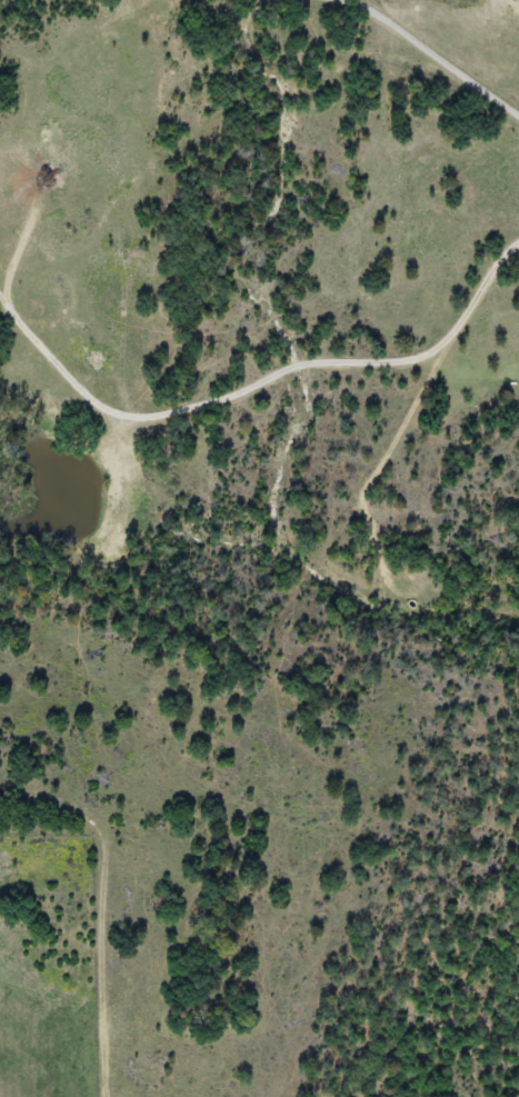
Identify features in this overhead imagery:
road: (433, 50)

